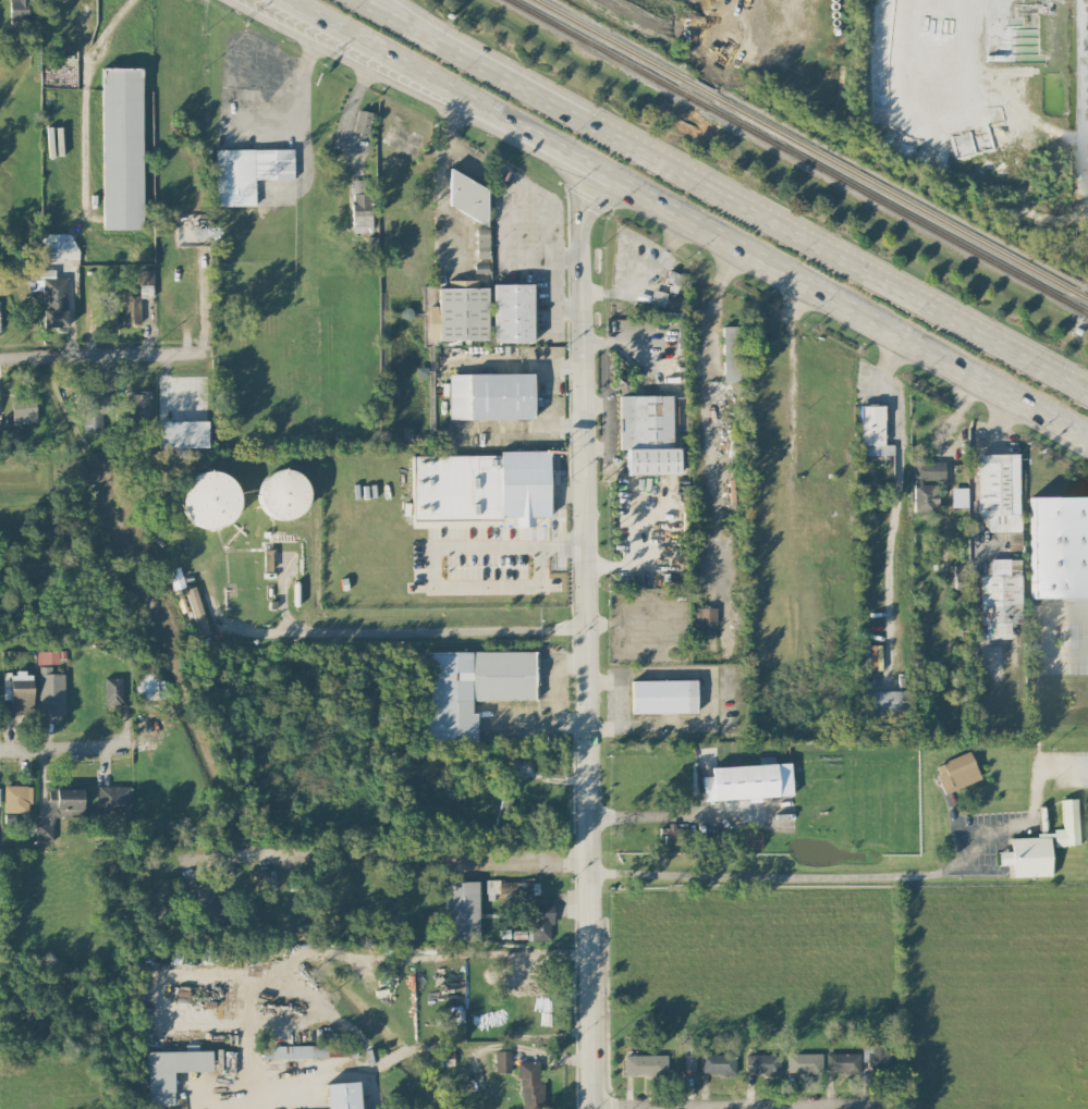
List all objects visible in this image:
building: (19, 11)
road: (399, 15)
road: (406, 15)
road: (99, 35)
road: (356, 40)
railway: (614, 42)
road: (332, 44)
railway: (597, 48)
railway: (700, 89)
railway: (694, 100)
road: (83, 110)
road: (299, 112)
building: (362, 121)
building: (121, 147)
building: (248, 172)
building: (467, 196)
railway: (897, 197)
building: (360, 205)
road: (758, 209)
railway: (895, 210)
road: (505, 226)
building: (482, 242)
building: (57, 245)
road: (546, 251)
road: (760, 252)
road: (650, 276)
building: (145, 283)
building: (50, 295)
building: (131, 309)
building: (459, 312)
building: (512, 312)
road: (626, 345)
building: (732, 353)
road: (129, 356)
road: (15, 358)
road: (40, 358)
building: (490, 395)
building: (139, 405)
building: (95, 409)
building: (23, 410)
building: (872, 431)
building: (182, 433)
building: (647, 433)
road: (513, 434)
road: (712, 436)
road: (793, 452)
road: (897, 480)
building: (926, 484)
building: (481, 485)
building: (999, 490)
building: (283, 493)
building: (958, 496)
building: (209, 498)
building: (1059, 546)
road: (433, 560)
building: (958, 576)
building: (1000, 597)
building: (196, 609)
building: (705, 615)
road: (356, 631)
road: (1049, 632)
road: (585, 633)
building: (146, 685)
building: (470, 687)
building: (50, 690)
building: (112, 690)
building: (17, 691)
building: (662, 695)
building: (884, 700)
road: (64, 752)
building: (956, 772)
building: (747, 781)
building: (16, 798)
building: (506, 798)
building: (113, 799)
building: (59, 809)
road: (649, 817)
building: (1067, 824)
building: (675, 835)
road: (415, 854)
building: (1028, 855)
road: (821, 877)
building: (508, 887)
building: (461, 910)
building: (540, 921)
road: (272, 978)
building: (306, 1050)
building: (875, 1056)
building: (502, 1060)
building: (718, 1062)
building: (762, 1062)
building: (804, 1062)
building: (842, 1062)
building: (645, 1063)
building: (171, 1071)
building: (530, 1084)
building: (343, 1095)
road: (732, 1105)
building: (307, 1107)

